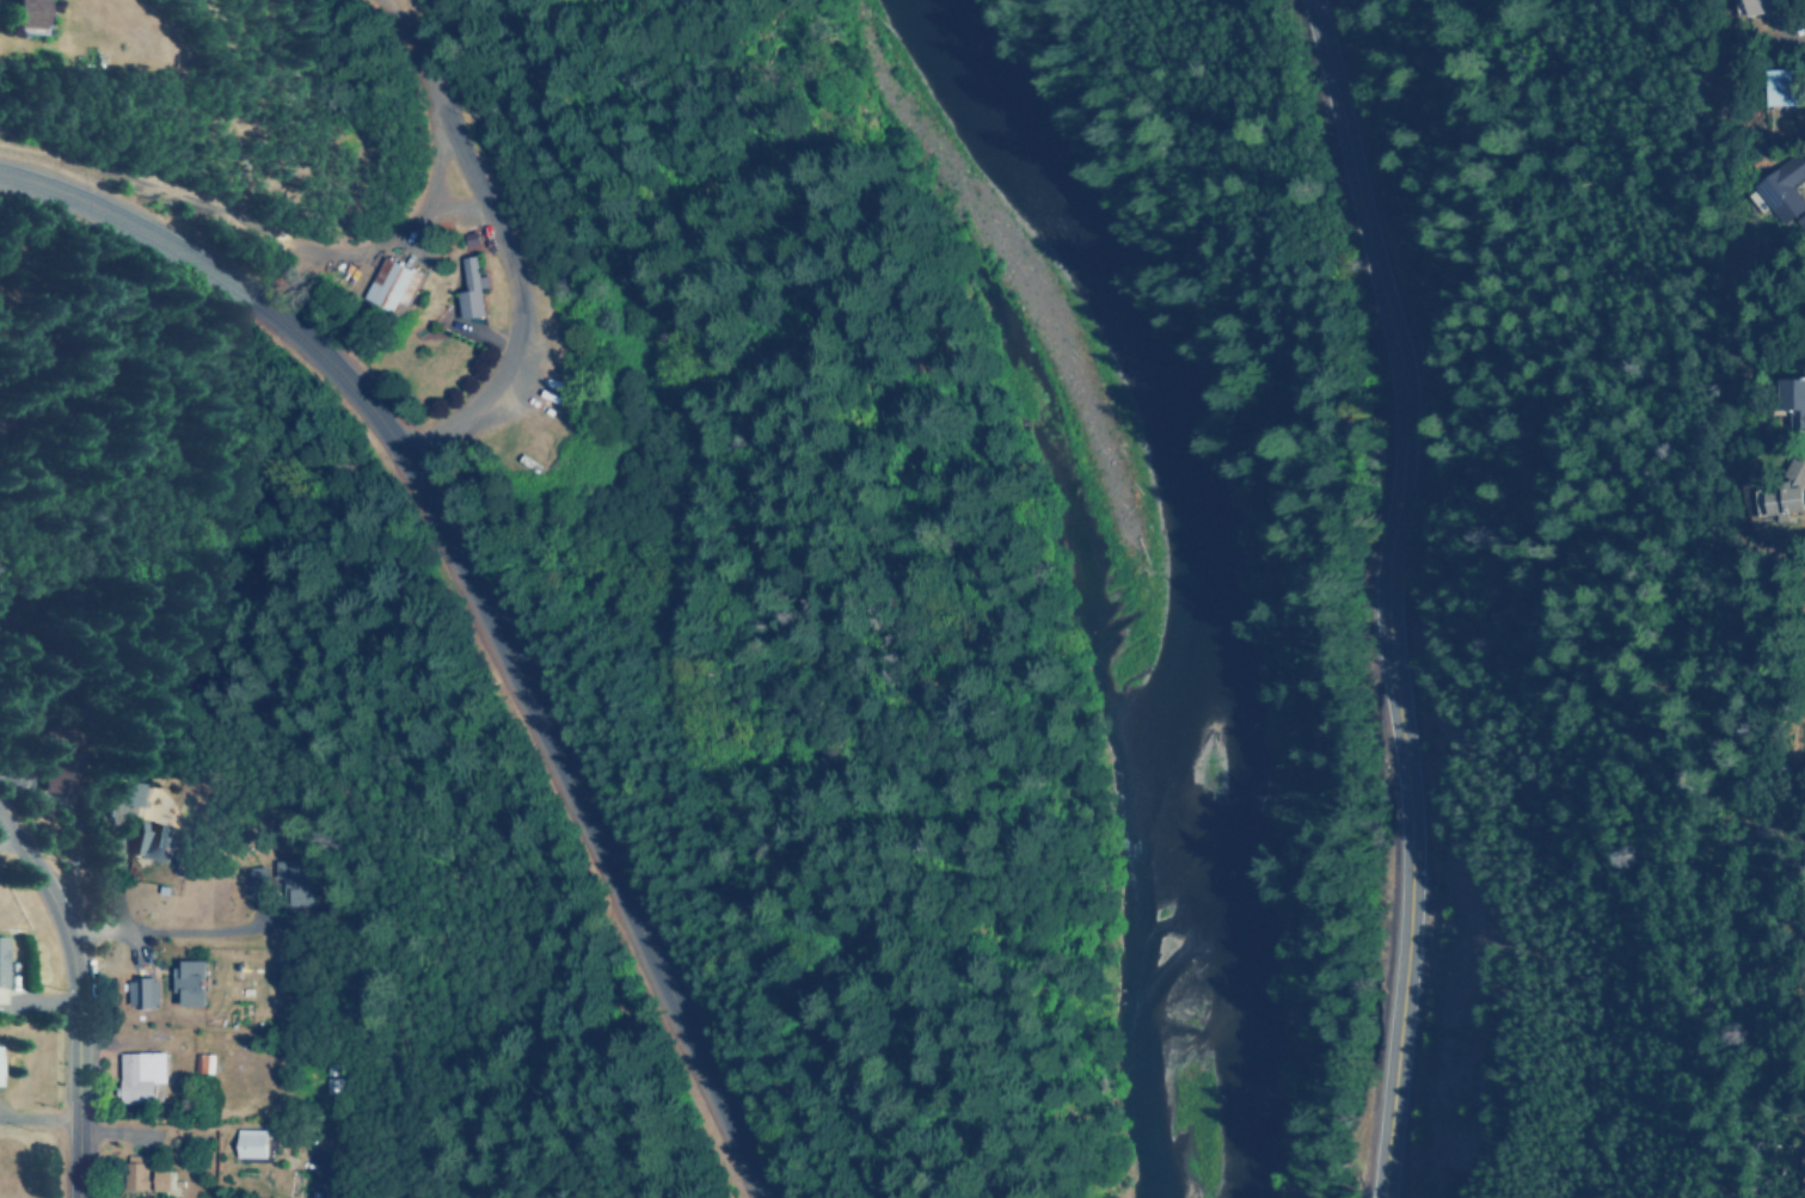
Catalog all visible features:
building: (1758, 6)
building: (27, 13)
building: (1781, 87)
building: (1785, 186)
building: (1801, 221)
road: (515, 232)
building: (394, 283)
building: (472, 288)
road: (61, 358)
building: (1794, 399)
park: (168, 417)
building: (1785, 492)
river: (1232, 571)
road: (493, 592)
road: (1388, 595)
building: (56, 780)
building: (152, 840)
building: (256, 879)
building: (294, 880)
building: (2, 959)
building: (190, 982)
building: (143, 991)
road: (67, 994)
building: (205, 1062)
building: (141, 1075)
building: (330, 1077)
building: (252, 1143)
building: (135, 1171)
building: (164, 1179)

